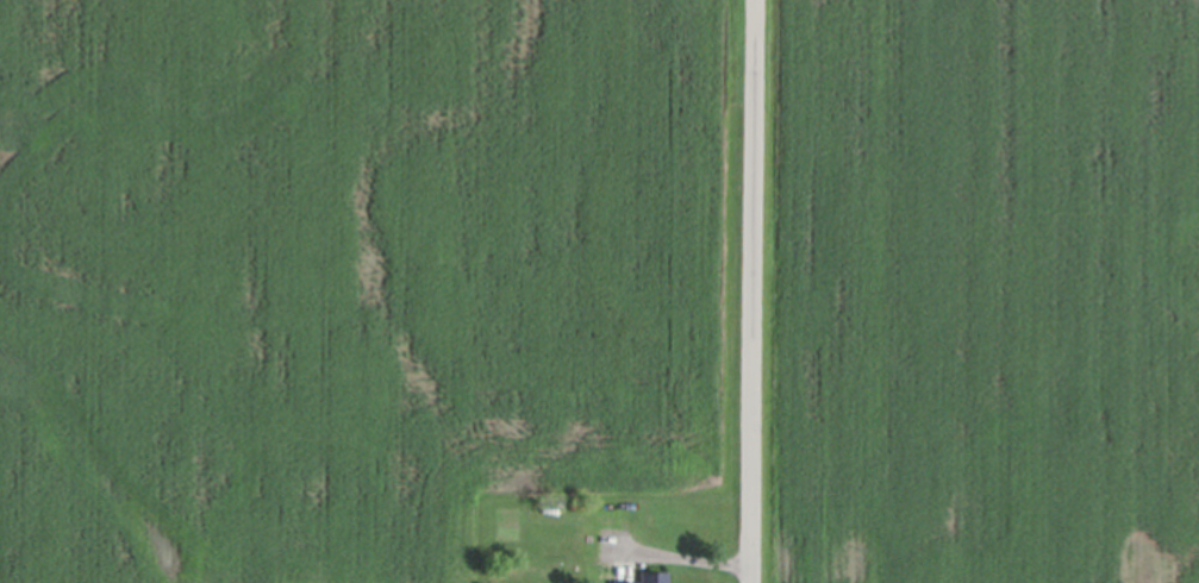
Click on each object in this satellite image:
road: (753, 290)
road: (680, 558)
building: (652, 578)

